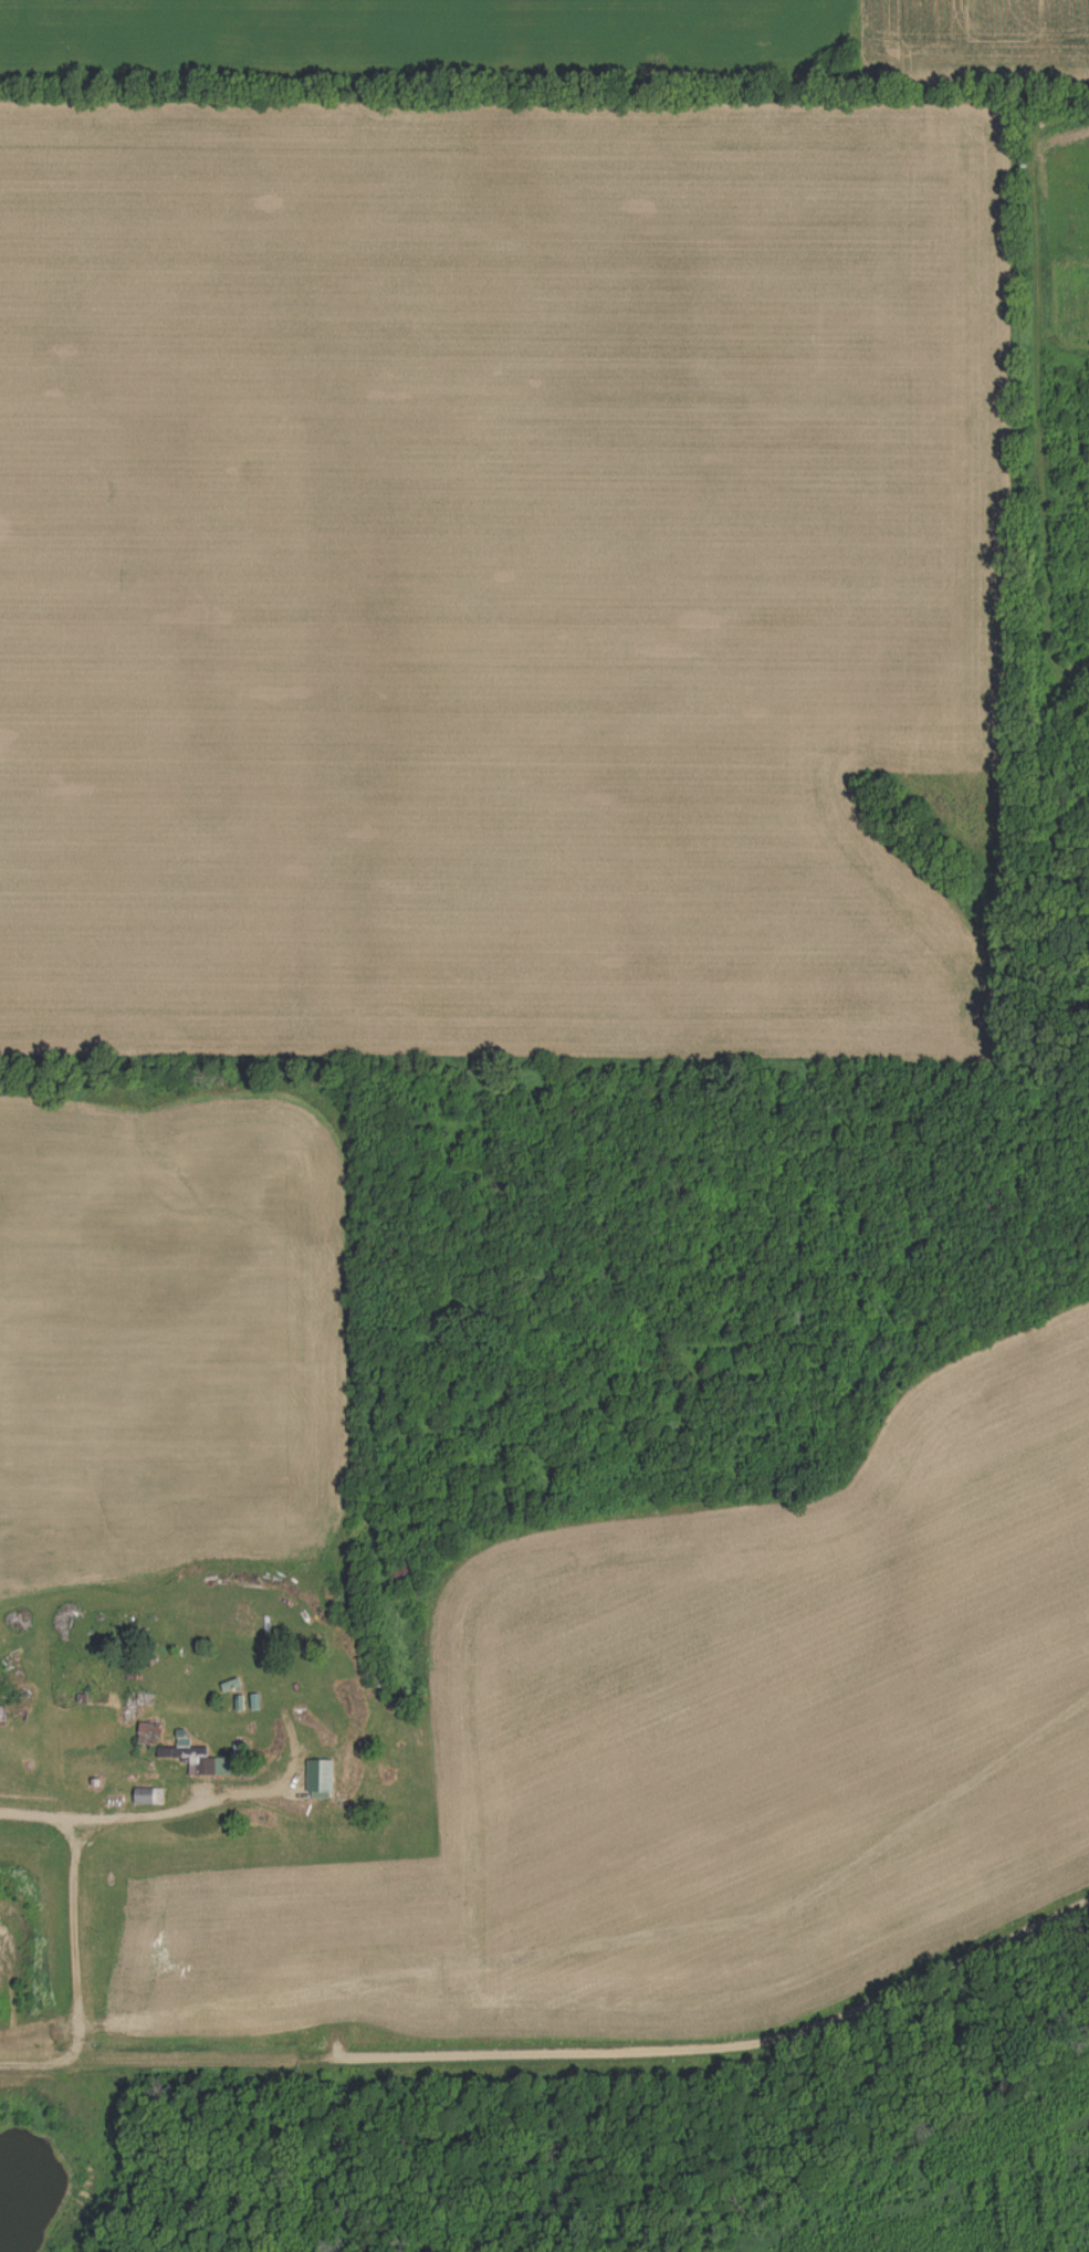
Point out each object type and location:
building: (2, 1714)
building: (189, 1759)
building: (321, 1781)
building: (148, 1798)
road: (196, 1808)
road: (1023, 1928)
road: (368, 2054)

